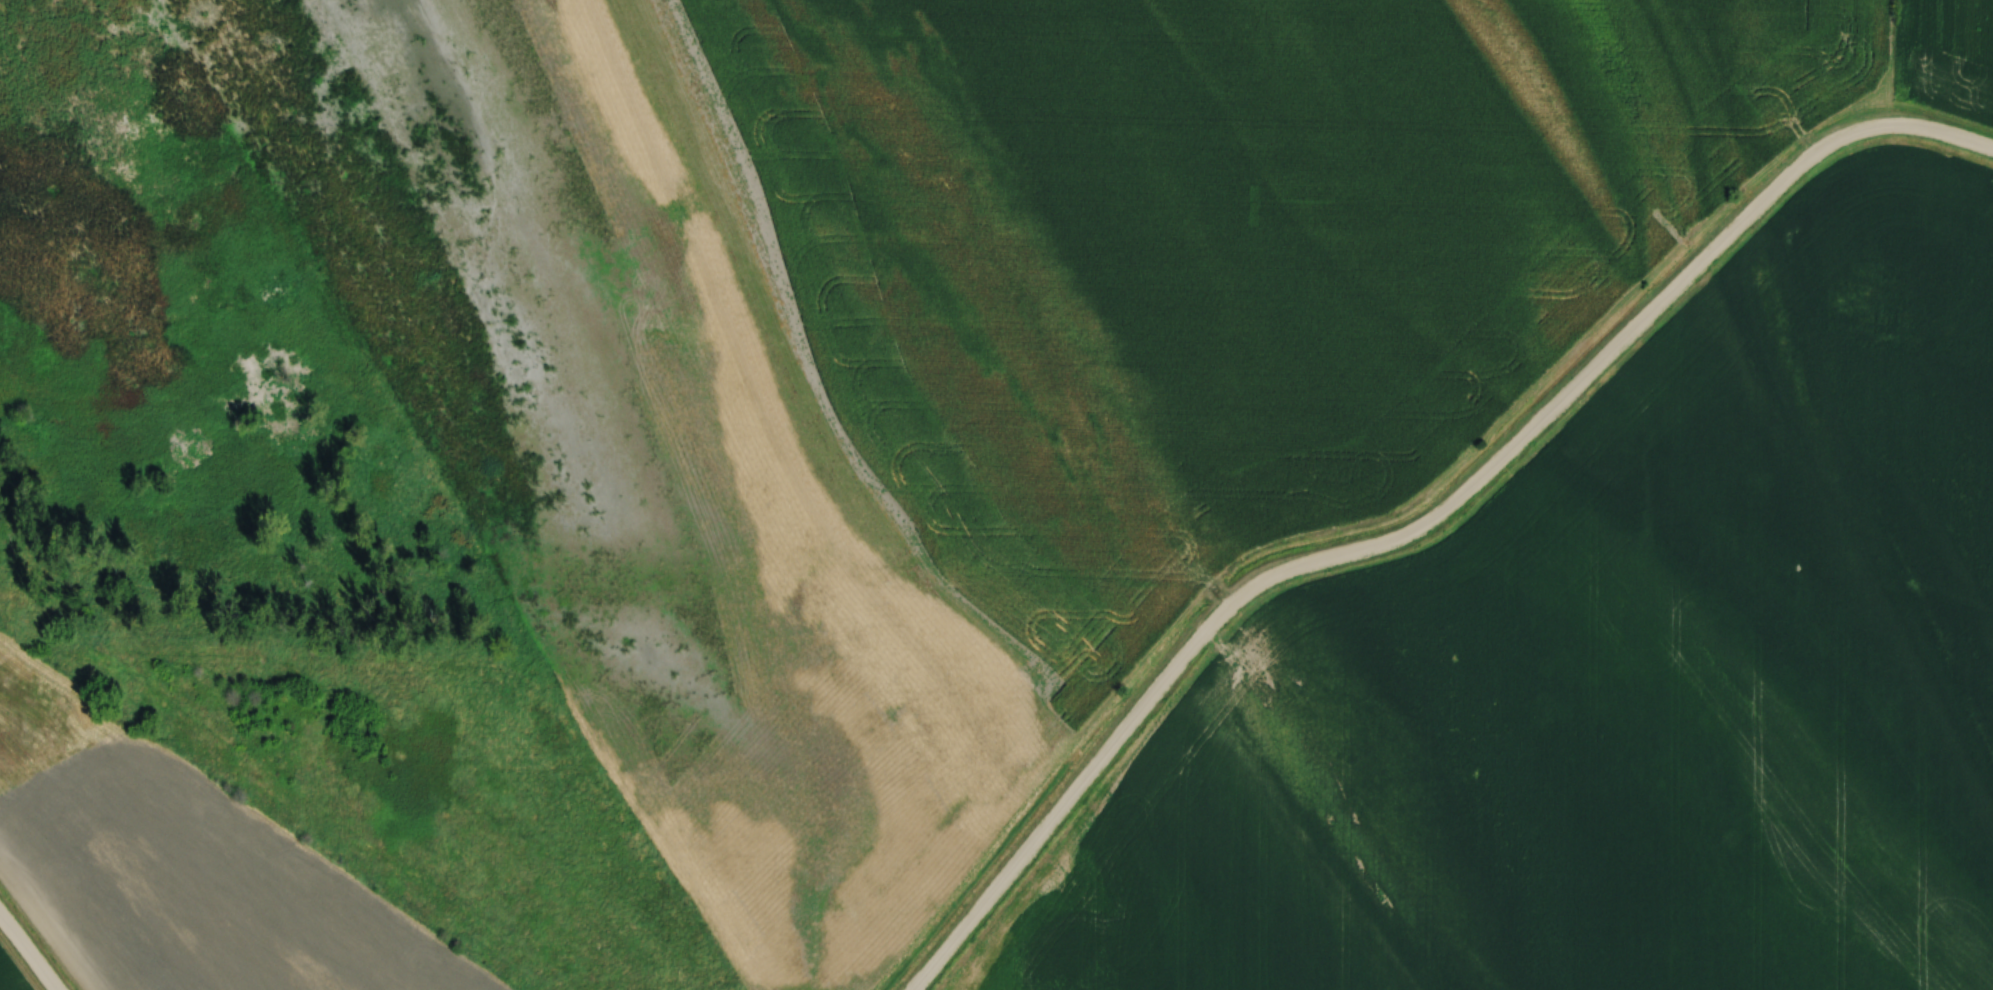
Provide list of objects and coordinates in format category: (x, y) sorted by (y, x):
road: (1417, 498)
road: (29, 951)

